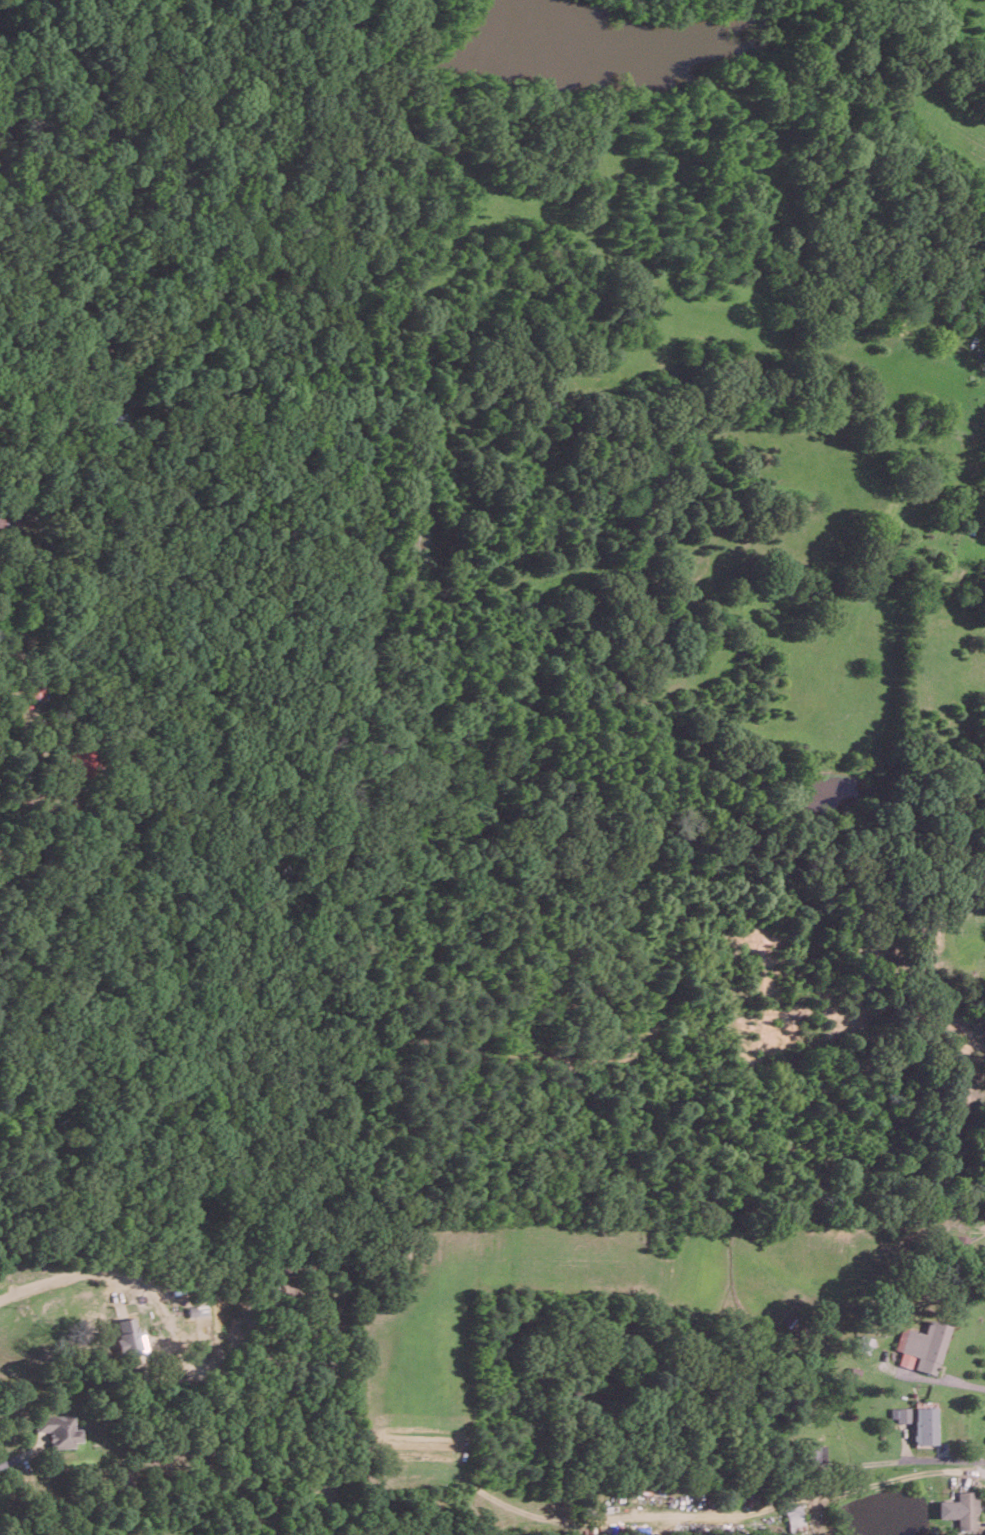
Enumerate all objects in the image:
building: (11, 520)
road: (14, 703)
road: (56, 1278)
building: (129, 1338)
building: (923, 1347)
building: (900, 1414)
building: (925, 1425)
building: (59, 1429)
road: (15, 1458)
road: (897, 1478)
building: (960, 1509)
building: (794, 1517)

